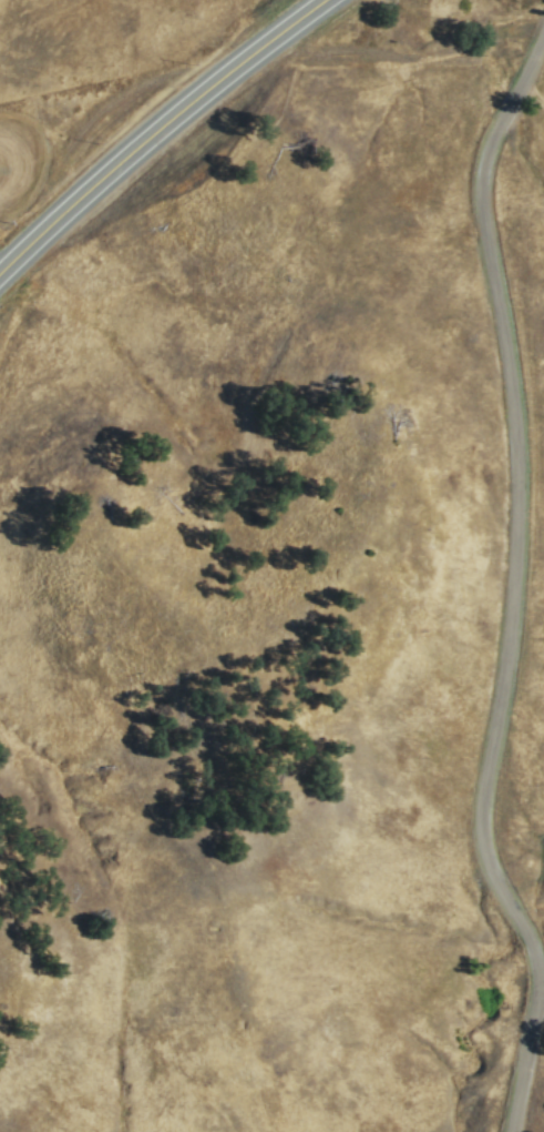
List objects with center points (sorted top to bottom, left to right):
road: (155, 129)
road: (521, 594)

